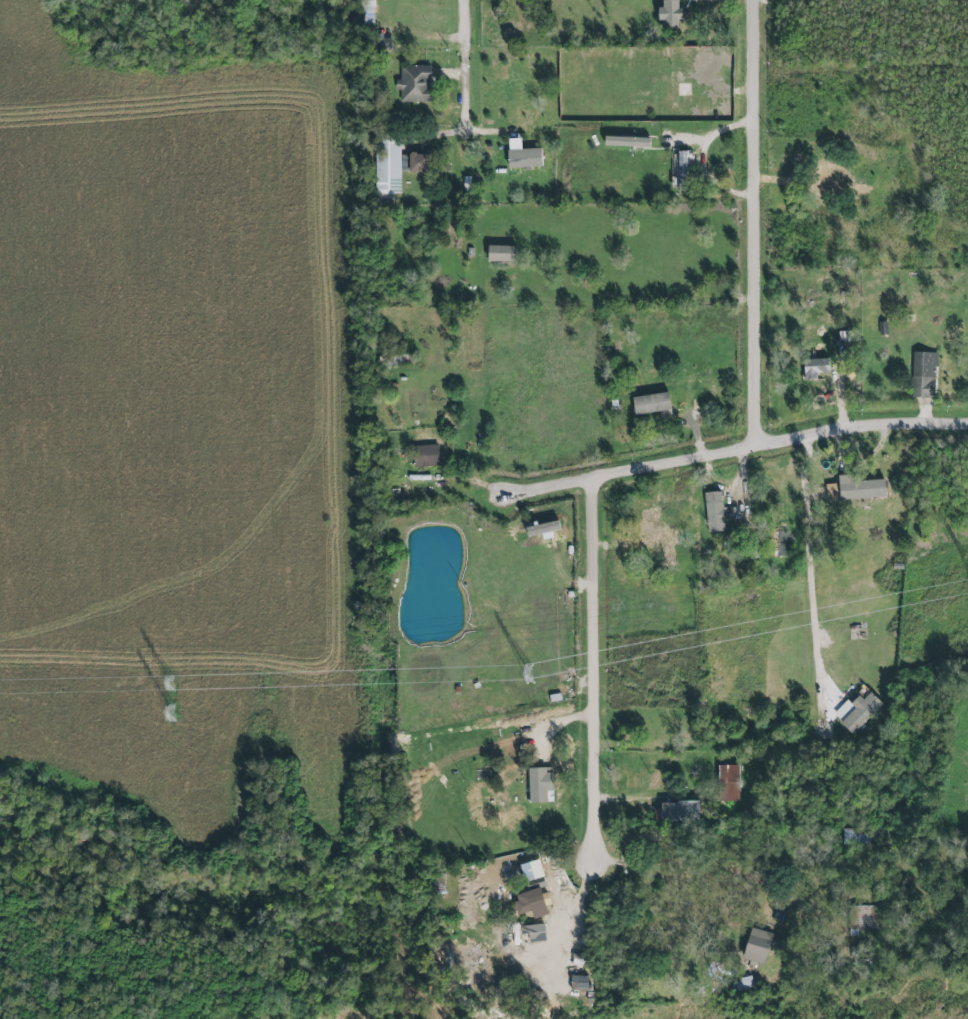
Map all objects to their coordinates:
building: (367, 13)
building: (667, 15)
road: (464, 64)
building: (415, 84)
building: (625, 141)
building: (524, 154)
road: (697, 161)
building: (393, 165)
building: (682, 169)
building: (826, 177)
building: (861, 190)
road: (760, 221)
building: (499, 253)
building: (816, 367)
building: (923, 375)
road: (932, 391)
road: (843, 394)
building: (650, 403)
road: (699, 425)
road: (777, 439)
building: (425, 455)
road: (545, 487)
building: (855, 489)
building: (713, 511)
building: (650, 527)
road: (809, 566)
road: (591, 669)
power tower: (527, 676)
power tower: (169, 684)
building: (856, 711)
building: (541, 783)
building: (725, 783)
building: (676, 811)
building: (853, 837)
building: (528, 896)
road: (573, 923)
building: (532, 932)
building: (753, 946)
building: (578, 984)

